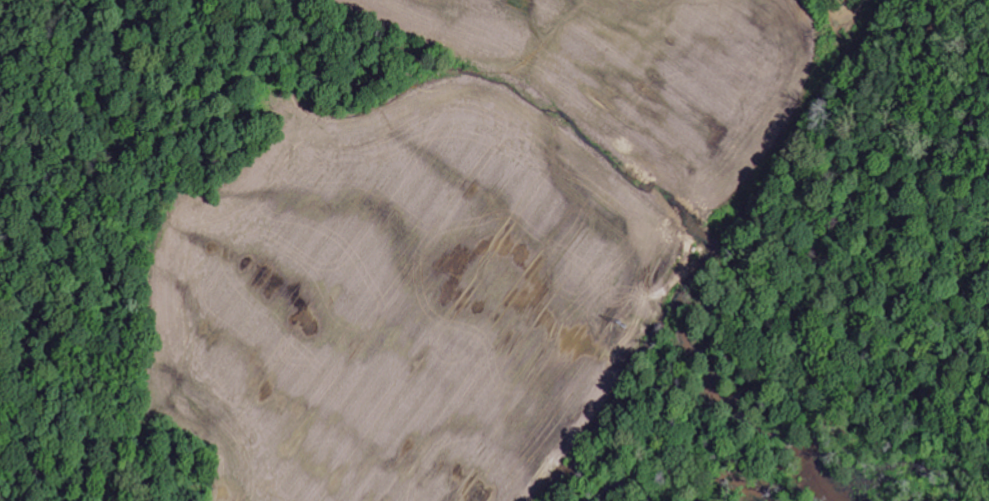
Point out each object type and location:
power tower: (643, 320)

